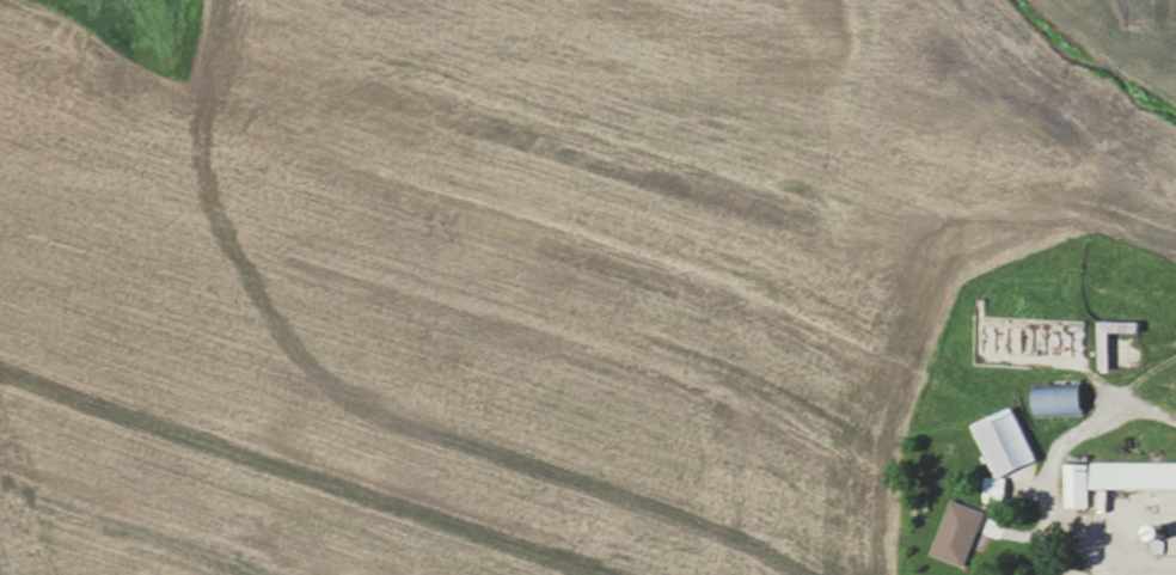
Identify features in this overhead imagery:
building: (1070, 337)
building: (1094, 350)
building: (1046, 400)
building: (996, 441)
building: (1110, 478)
building: (986, 491)
building: (949, 533)
road: (1140, 564)

